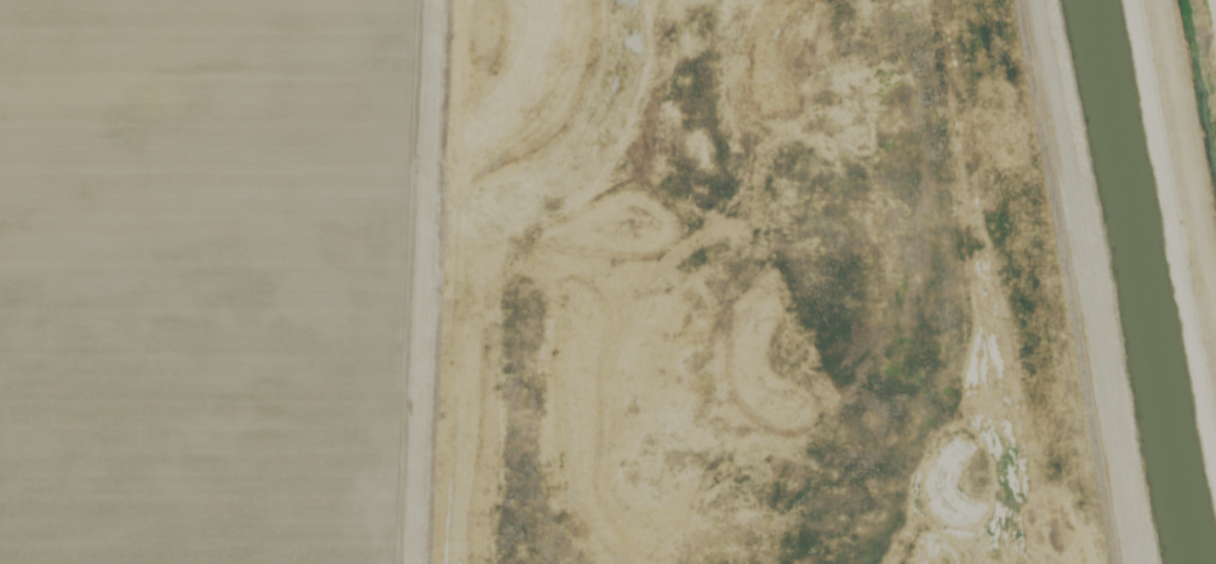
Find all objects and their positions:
road: (1175, 229)

